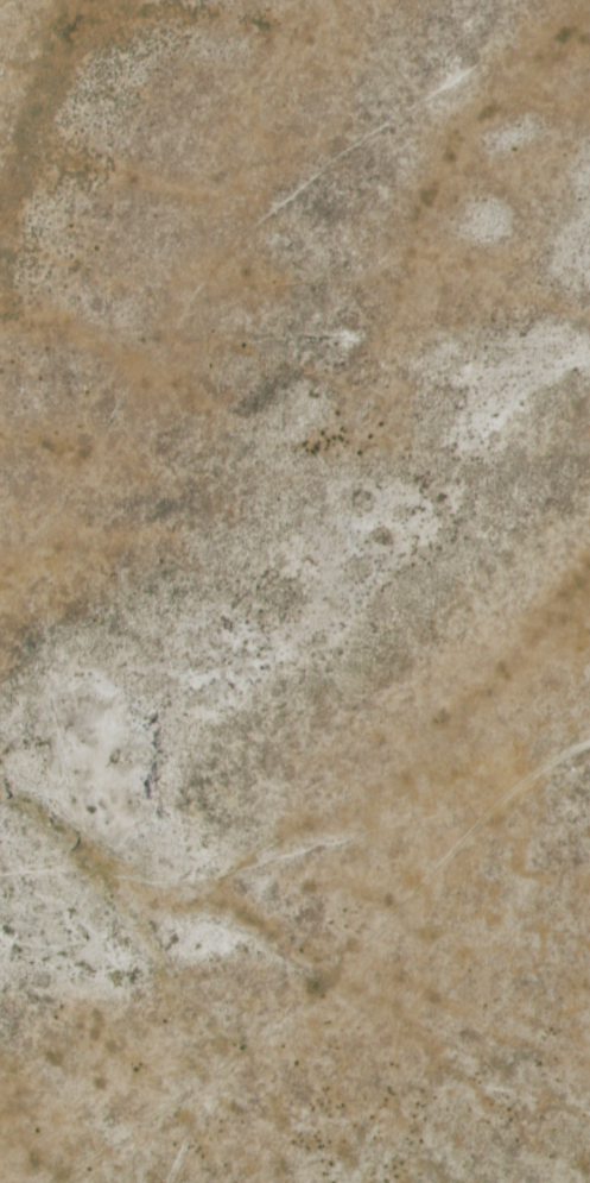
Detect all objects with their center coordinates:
road: (319, 943)

